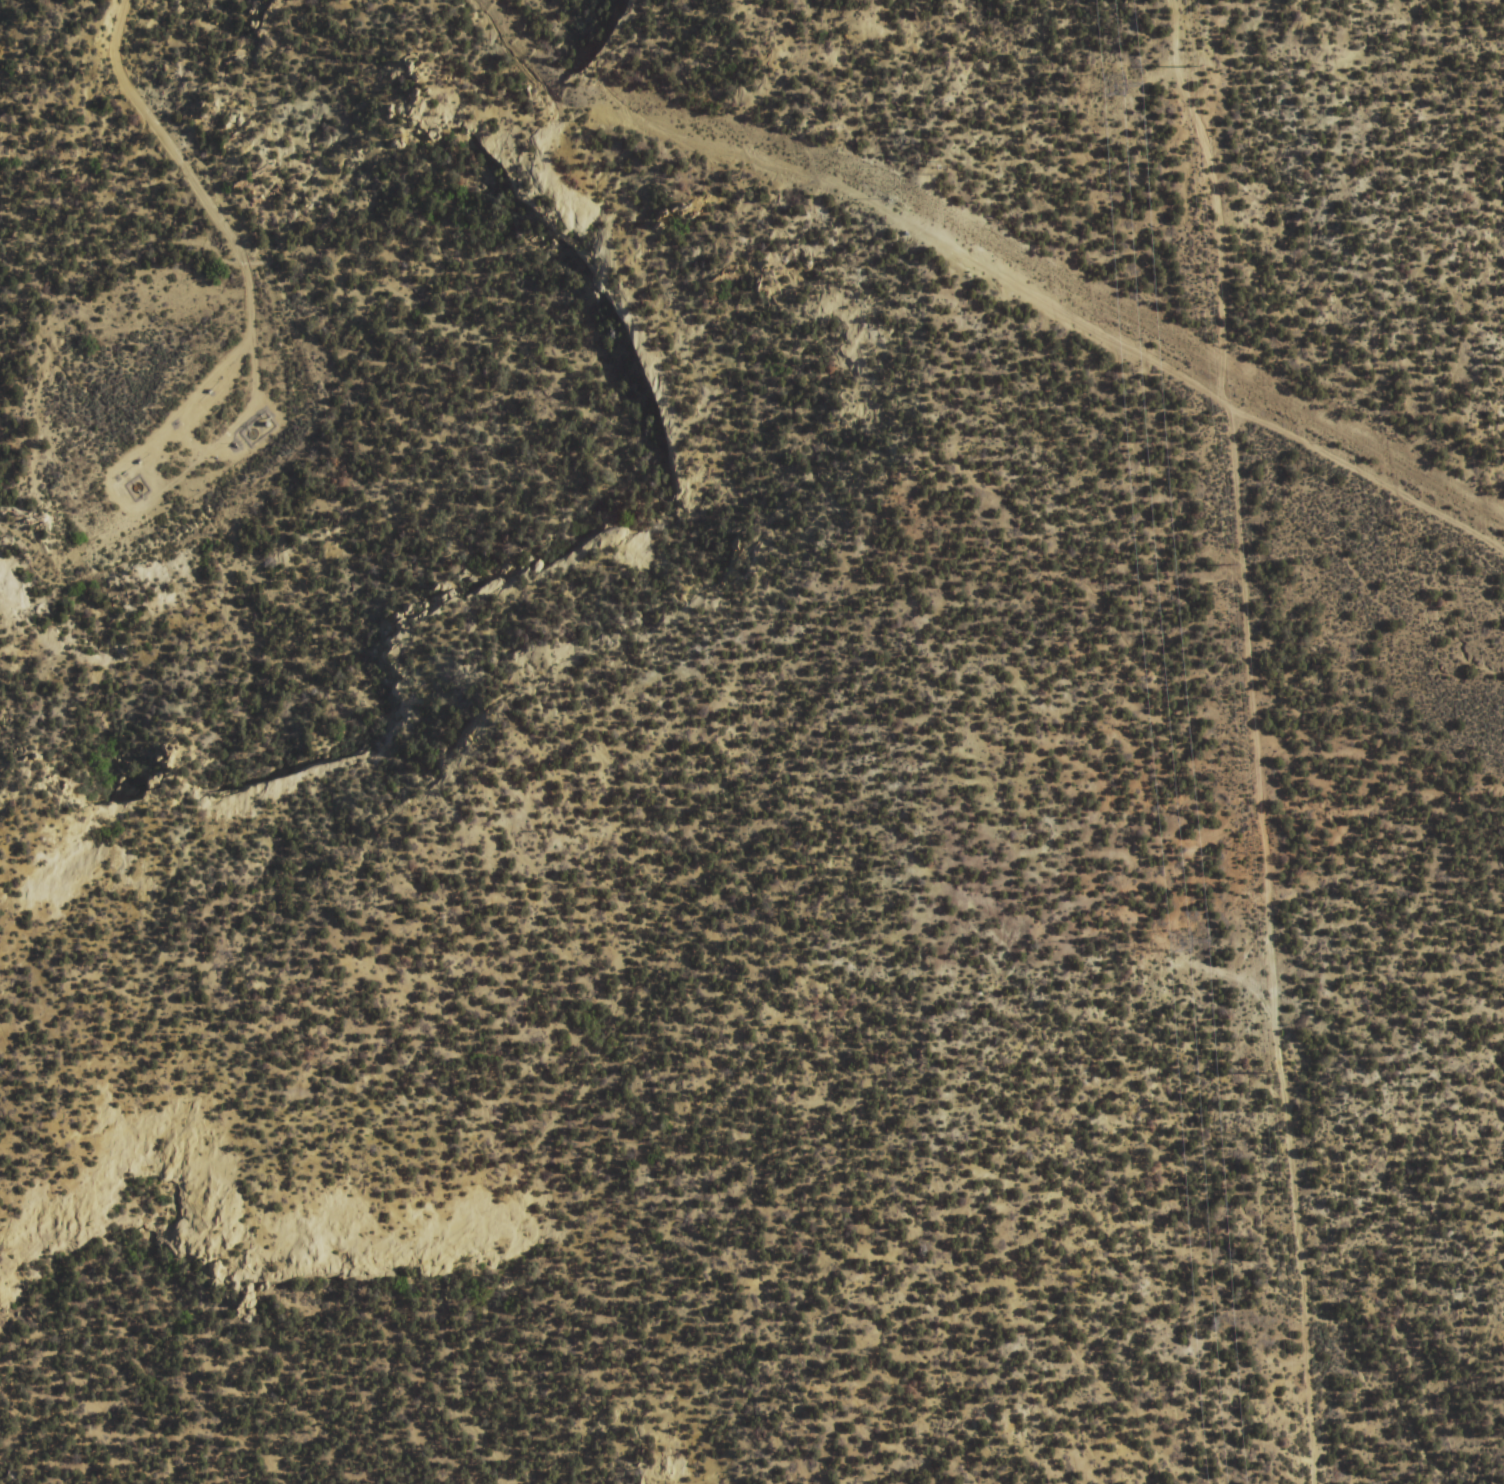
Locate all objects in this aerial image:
power tower: (1110, 81)
road: (991, 260)
power tower: (1181, 941)

